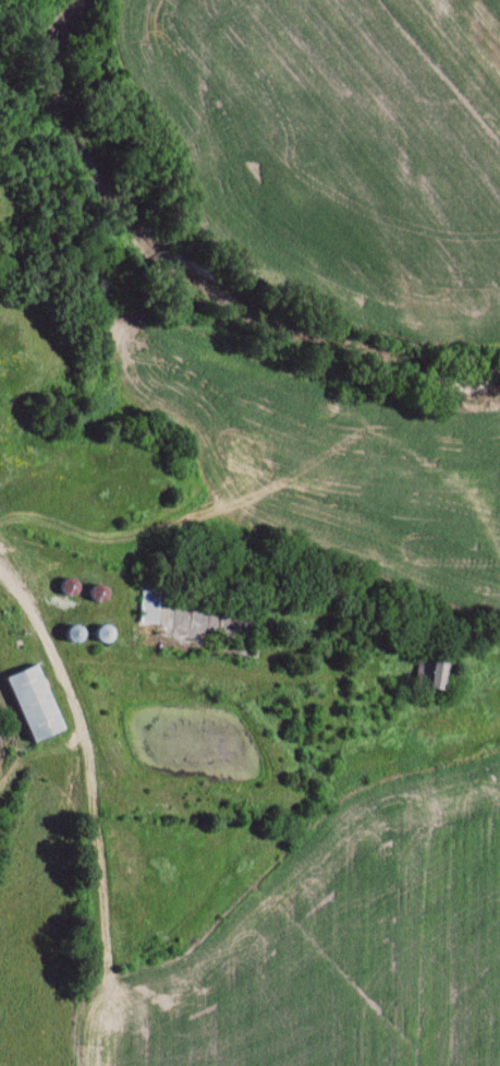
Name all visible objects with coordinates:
road: (17, 600)
building: (153, 604)
building: (439, 673)
building: (42, 705)

